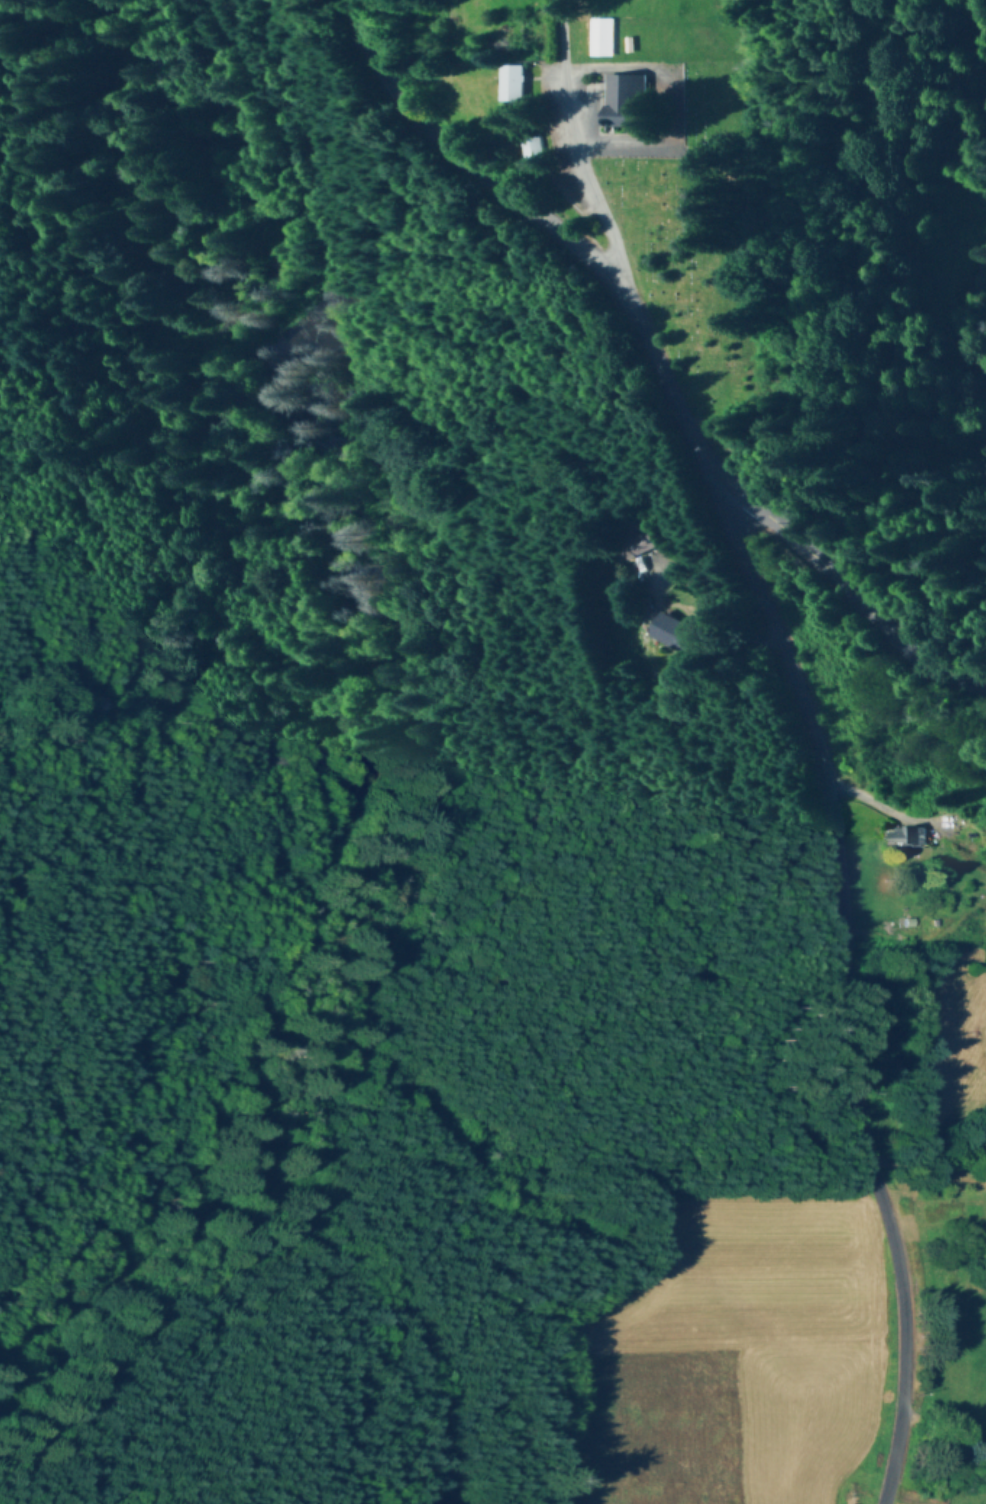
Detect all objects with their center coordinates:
building: (515, 83)
building: (623, 101)
building: (536, 147)
road: (589, 149)
road: (659, 359)
building: (646, 544)
building: (673, 632)
building: (907, 838)
road: (847, 994)

